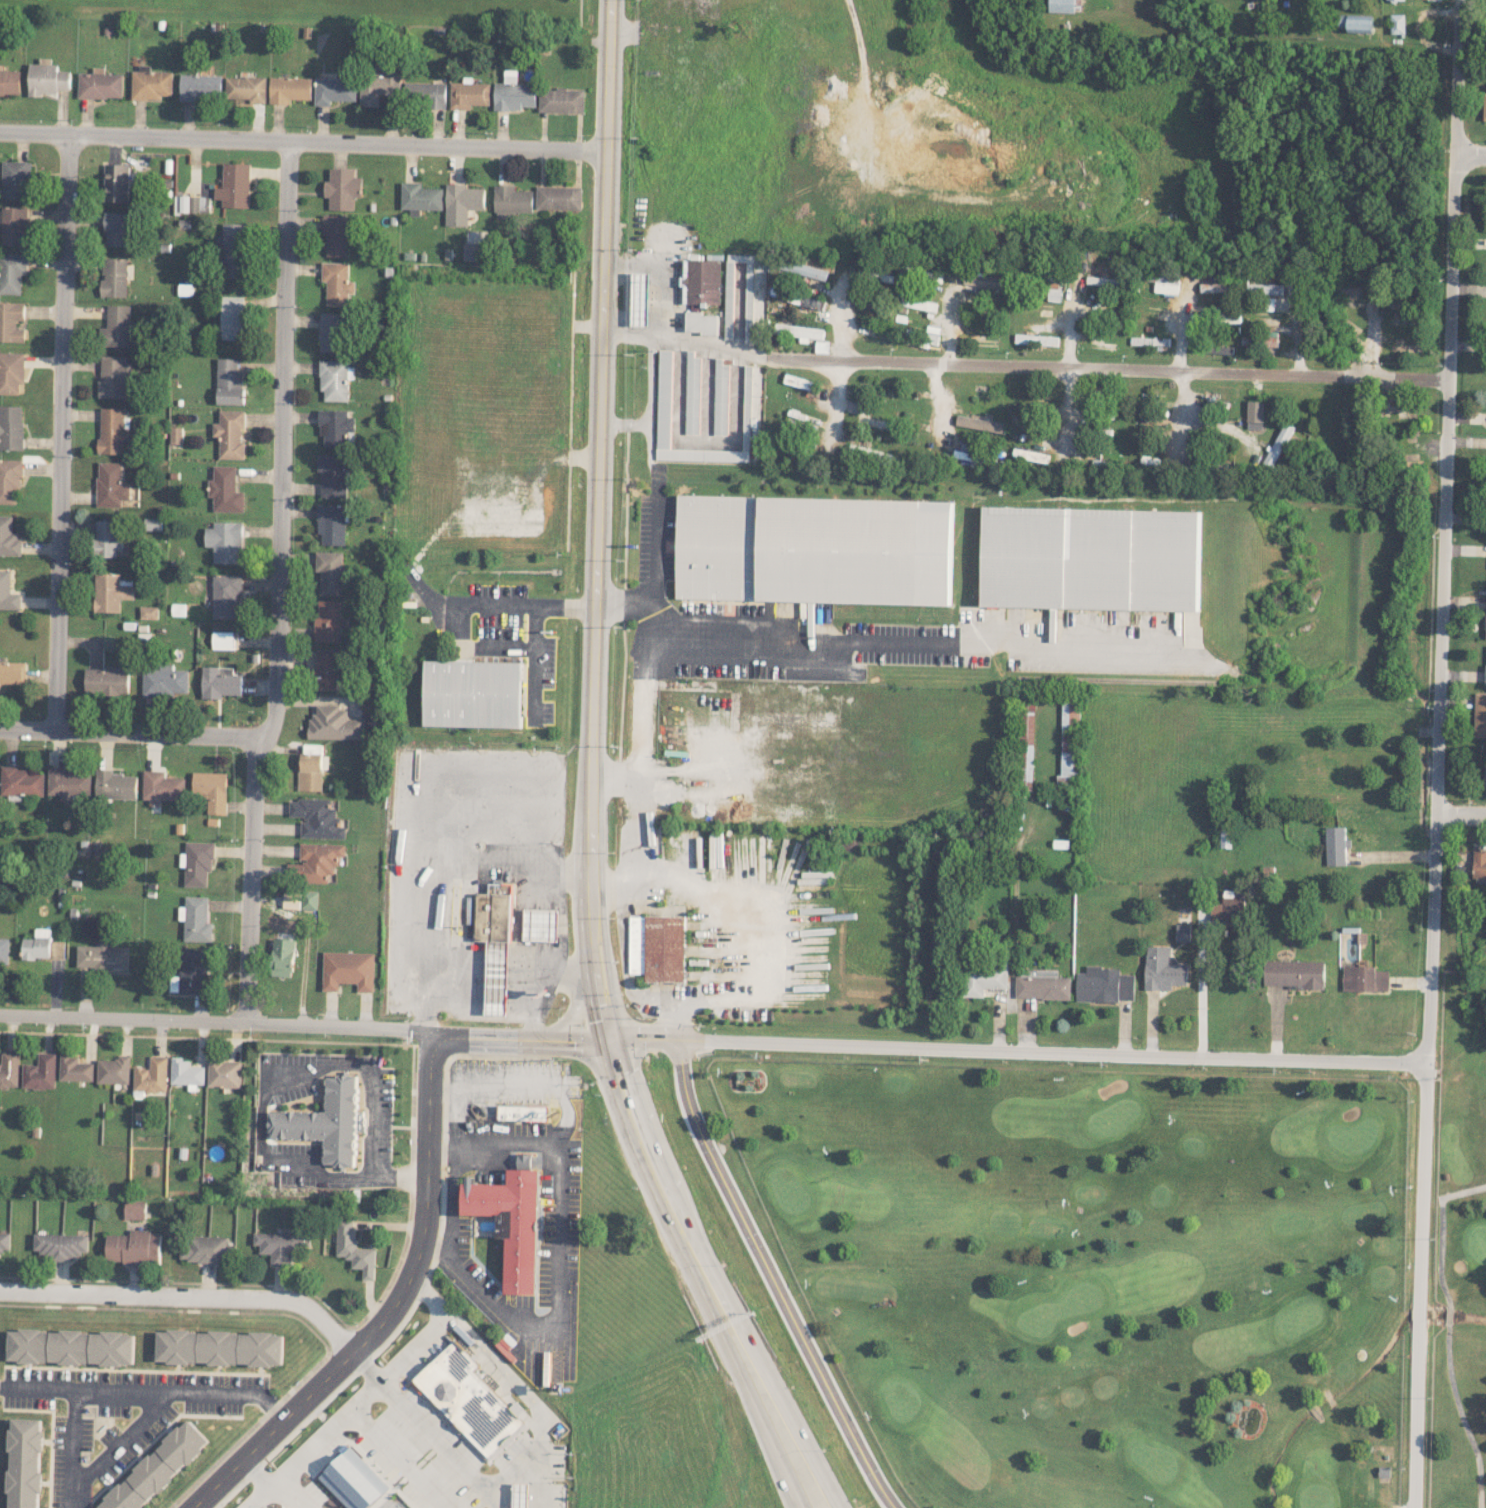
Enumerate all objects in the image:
building: (1400, 0)
building: (1061, 5)
building: (1359, 23)
building: (1397, 24)
building: (47, 78)
building: (10, 81)
building: (151, 84)
building: (100, 85)
building: (200, 86)
building: (247, 88)
building: (289, 89)
building: (334, 89)
building: (376, 89)
building: (425, 93)
building: (469, 94)
building: (515, 95)
building: (561, 100)
building: (1484, 106)
road: (303, 141)
road: (1471, 147)
building: (16, 179)
building: (117, 182)
building: (235, 185)
building: (343, 188)
building: (421, 197)
building: (559, 197)
building: (512, 201)
building: (463, 202)
building: (193, 203)
building: (14, 226)
building: (117, 228)
building: (337, 234)
building: (234, 250)
building: (474, 251)
building: (805, 269)
road: (654, 271)
building: (12, 272)
building: (934, 276)
building: (115, 277)
building: (1104, 281)
building: (338, 282)
building: (701, 282)
building: (1166, 282)
building: (1215, 287)
building: (641, 299)
building: (806, 300)
building: (919, 303)
building: (234, 317)
building: (12, 321)
building: (701, 323)
building: (118, 327)
building: (800, 331)
building: (334, 332)
road: (685, 333)
building: (1037, 339)
building: (822, 346)
road: (1107, 361)
building: (12, 373)
building: (115, 376)
building: (334, 379)
building: (230, 382)
building: (800, 382)
building: (664, 391)
building: (693, 393)
building: (721, 397)
building: (751, 397)
building: (1256, 414)
road: (625, 424)
building: (981, 424)
building: (11, 427)
building: (335, 427)
building: (113, 430)
road: (61, 432)
building: (230, 434)
road: (282, 440)
building: (970, 452)
building: (1031, 455)
road: (653, 469)
building: (332, 475)
building: (9, 479)
building: (110, 484)
building: (225, 490)
road: (598, 515)
building: (153, 523)
building: (331, 523)
road: (1444, 528)
building: (8, 537)
building: (109, 537)
building: (224, 541)
building: (814, 549)
building: (1091, 558)
building: (330, 571)
building: (7, 592)
building: (110, 592)
building: (224, 596)
building: (148, 612)
building: (327, 621)
road: (536, 629)
building: (1485, 635)
building: (221, 639)
road: (868, 646)
building: (326, 669)
building: (12, 672)
building: (1485, 674)
building: (163, 680)
building: (106, 681)
building: (219, 682)
building: (473, 693)
building: (1480, 715)
building: (334, 724)
road: (132, 732)
building: (1070, 742)
building: (1027, 746)
building: (312, 748)
building: (309, 771)
building: (1485, 772)
road: (612, 779)
road: (633, 779)
building: (22, 781)
building: (69, 782)
building: (115, 785)
building: (162, 787)
building: (210, 790)
building: (665, 792)
road: (1461, 807)
building: (316, 818)
building: (1226, 840)
building: (1331, 840)
building: (198, 862)
building: (315, 862)
building: (1479, 864)
road: (250, 879)
building: (300, 899)
building: (1229, 909)
building: (495, 913)
building: (195, 919)
building: (542, 925)
building: (37, 944)
building: (658, 946)
building: (4, 950)
building: (102, 957)
building: (282, 957)
building: (1164, 969)
building: (348, 970)
building: (192, 972)
building: (1294, 974)
building: (983, 979)
building: (1365, 979)
road: (1201, 980)
building: (496, 985)
building: (1105, 985)
building: (1043, 987)
road: (726, 998)
road: (577, 1011)
road: (216, 1021)
road: (518, 1035)
road: (1013, 1043)
building: (9, 1069)
building: (75, 1069)
building: (114, 1070)
building: (40, 1072)
building: (186, 1072)
building: (224, 1073)
building: (152, 1075)
road: (279, 1081)
road: (526, 1082)
building: (524, 1112)
building: (327, 1121)
road: (444, 1149)
road: (403, 1174)
road: (452, 1200)
building: (135, 1209)
building: (512, 1218)
park: (1462, 1230)
building: (4, 1241)
building: (61, 1245)
building: (282, 1246)
road: (433, 1246)
building: (135, 1247)
building: (206, 1248)
building: (354, 1249)
road: (558, 1265)
road: (715, 1271)
road: (691, 1274)
road: (772, 1276)
park: (1099, 1276)
road: (1417, 1282)
road: (186, 1296)
road: (391, 1309)
building: (70, 1347)
building: (219, 1347)
road: (508, 1376)
road: (129, 1392)
building: (465, 1393)
road: (432, 1429)
road: (121, 1440)
road: (384, 1443)
road: (310, 1449)
building: (25, 1463)
building: (157, 1468)
building: (353, 1481)
road: (264, 1484)

